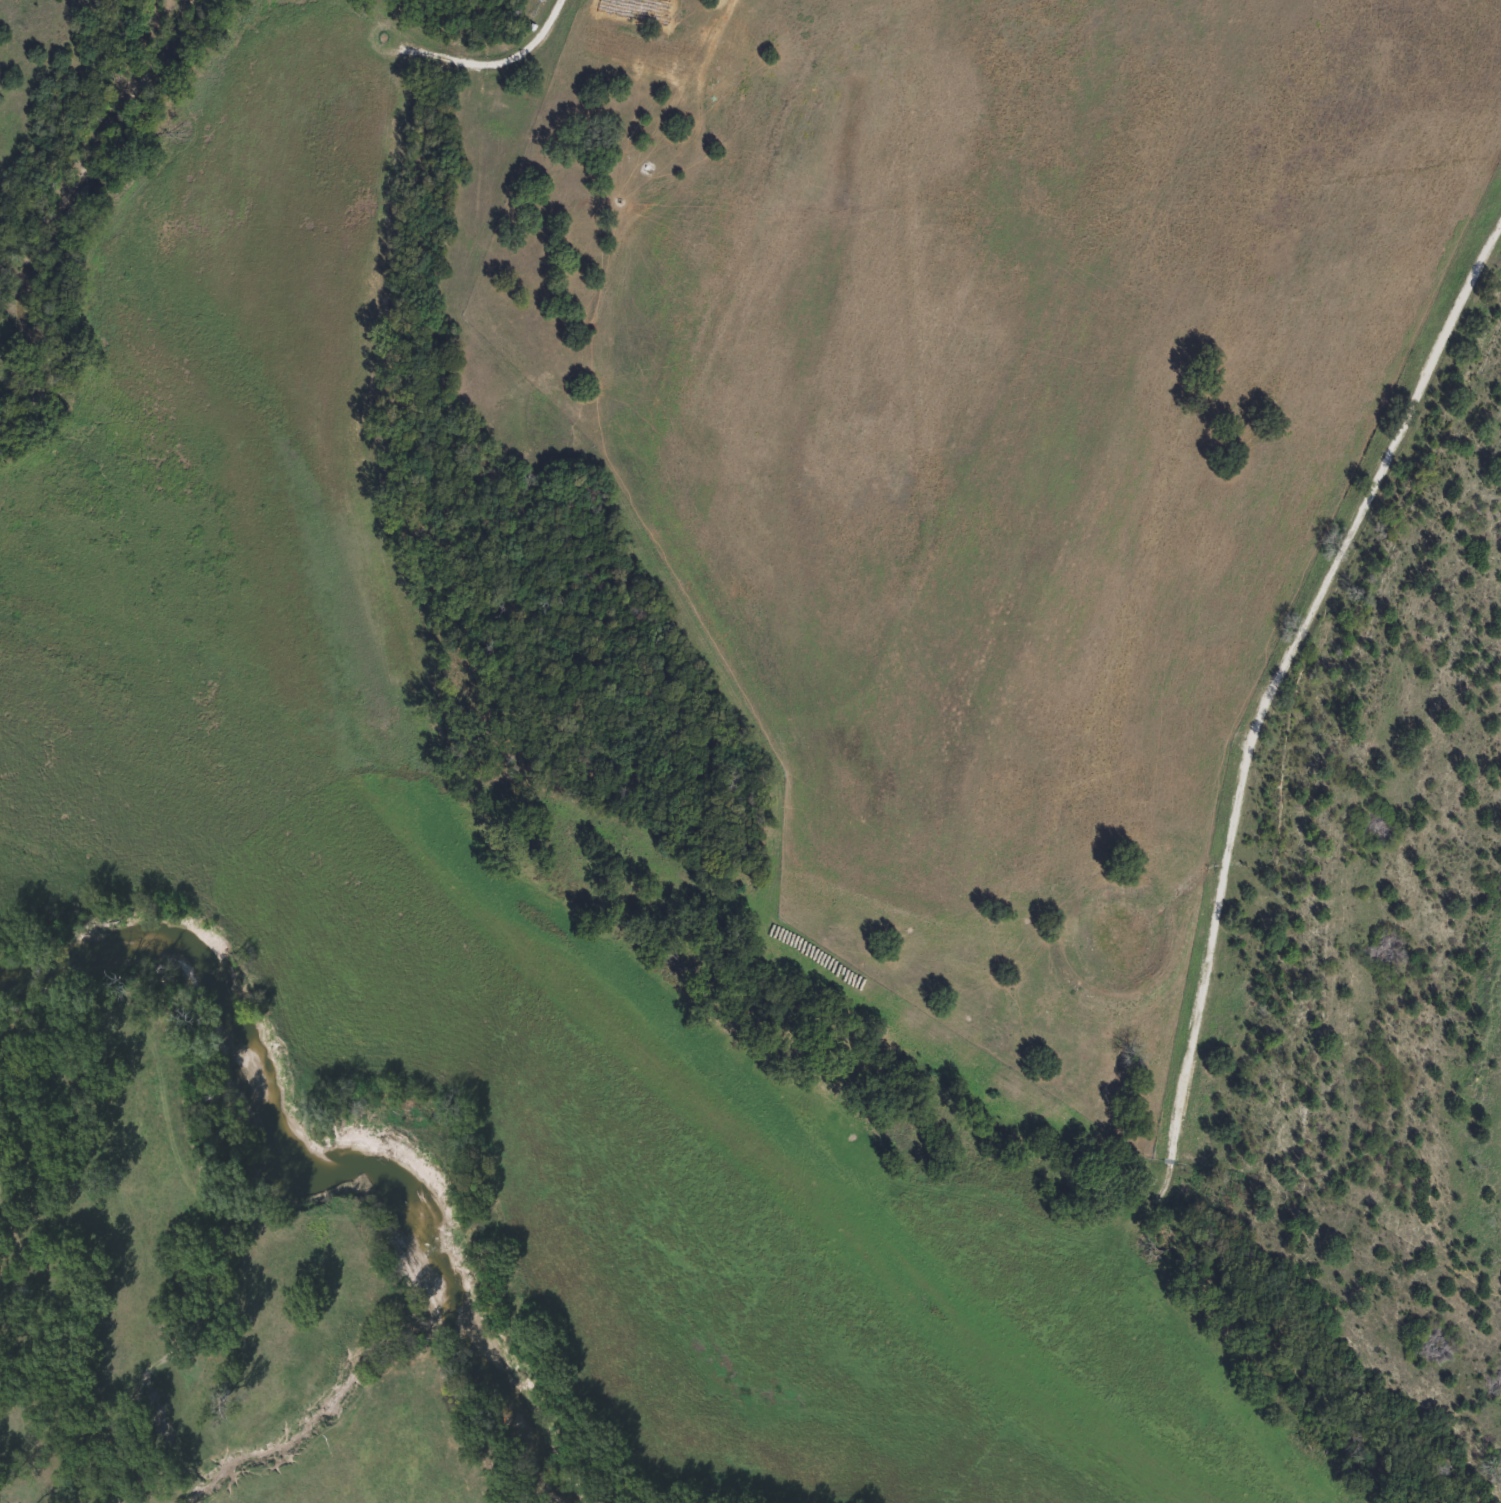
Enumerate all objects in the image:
road: (1285, 671)

